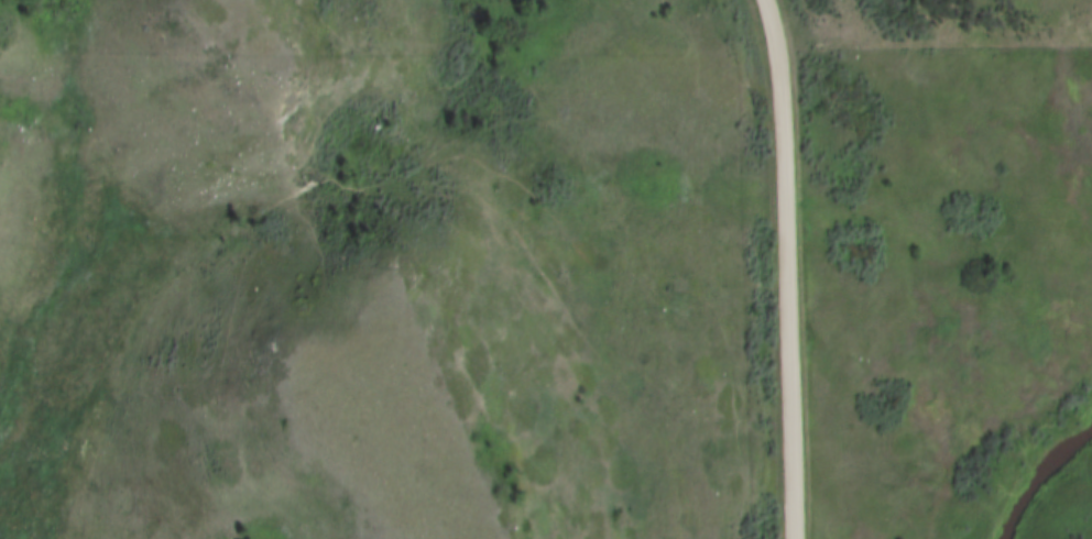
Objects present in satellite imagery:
road: (787, 268)

